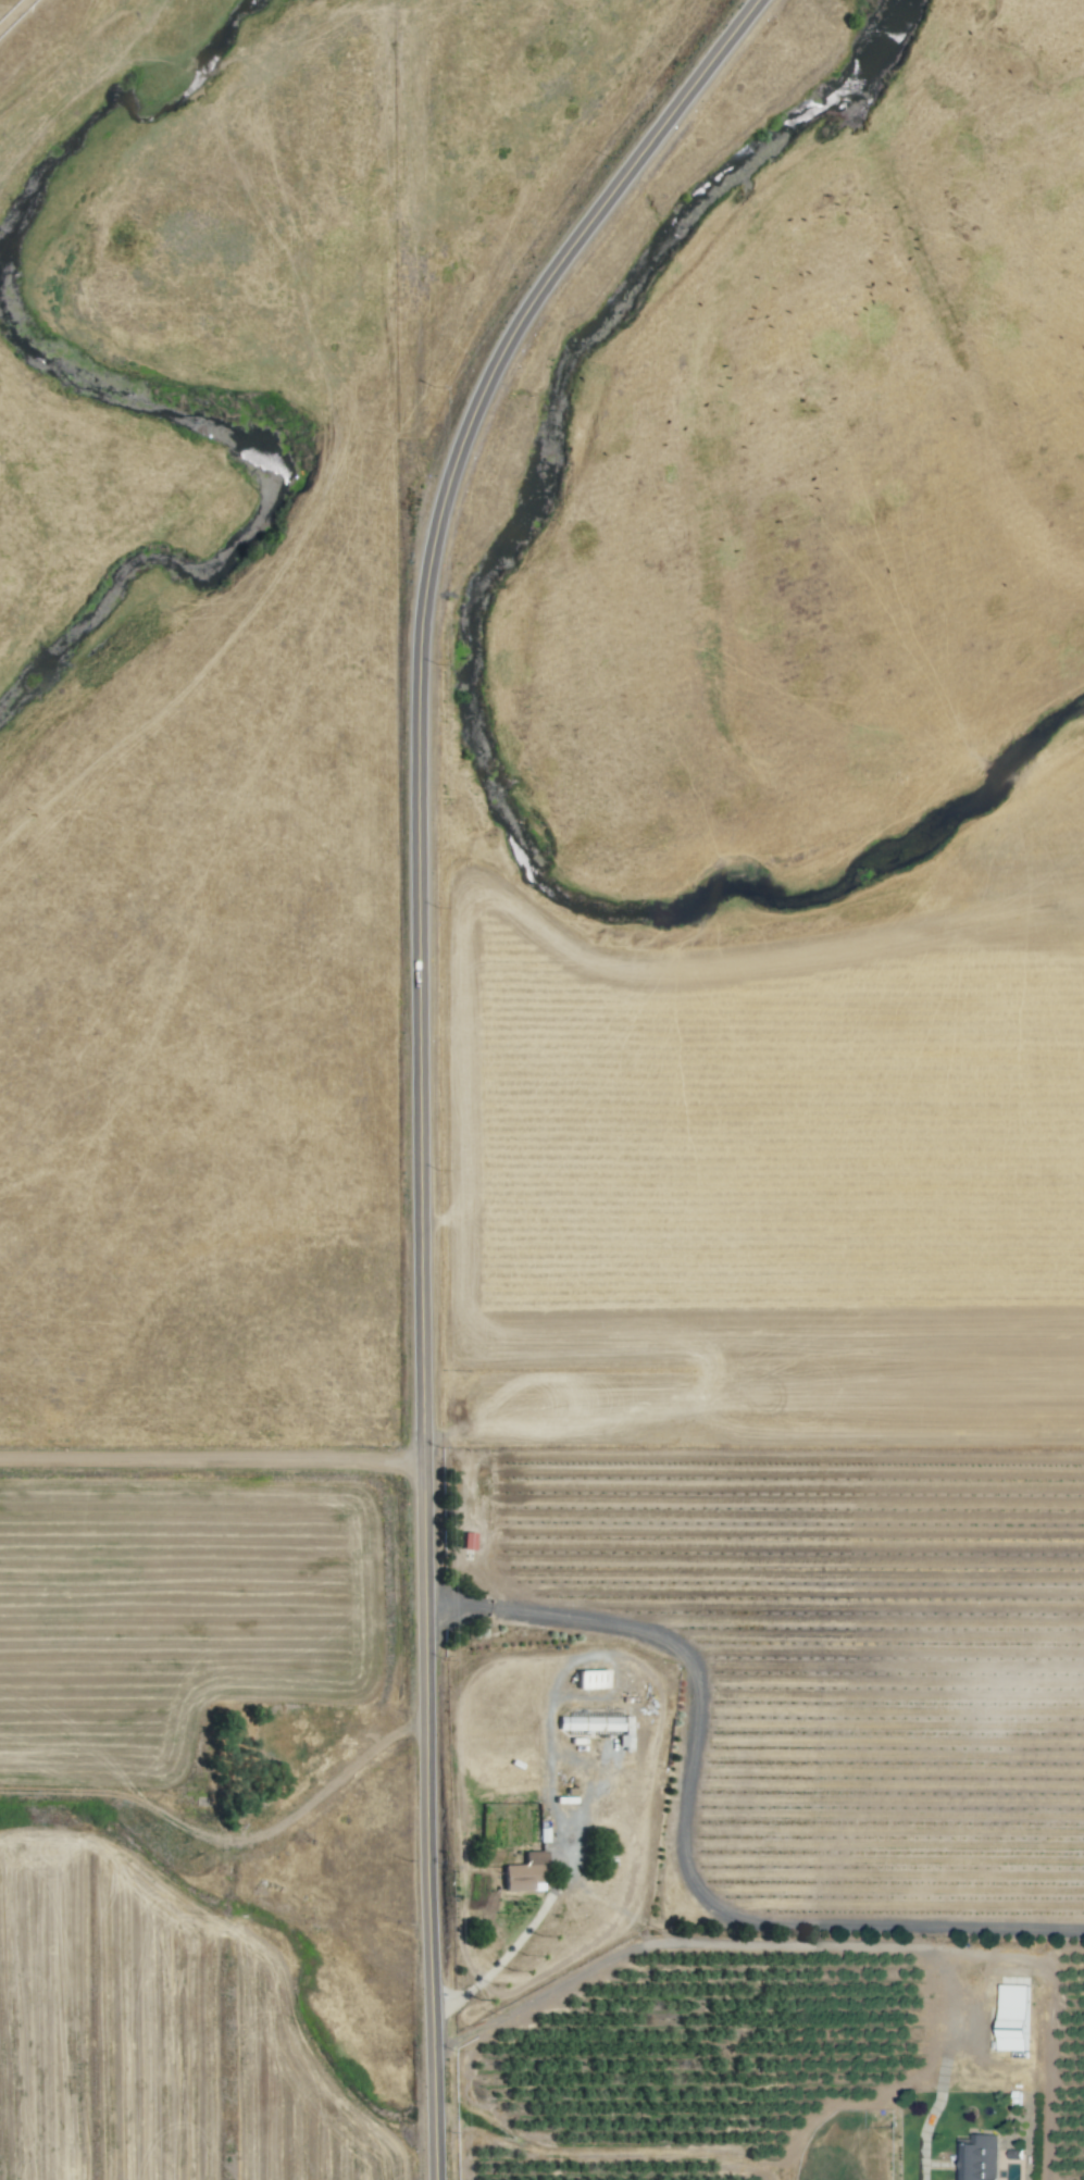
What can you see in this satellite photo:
road: (556, 266)
road: (423, 1375)
road: (212, 1460)
building: (591, 1681)
building: (590, 1726)
road: (694, 1826)
building: (525, 1873)
road: (793, 1944)
building: (1012, 2031)
building: (979, 2158)

